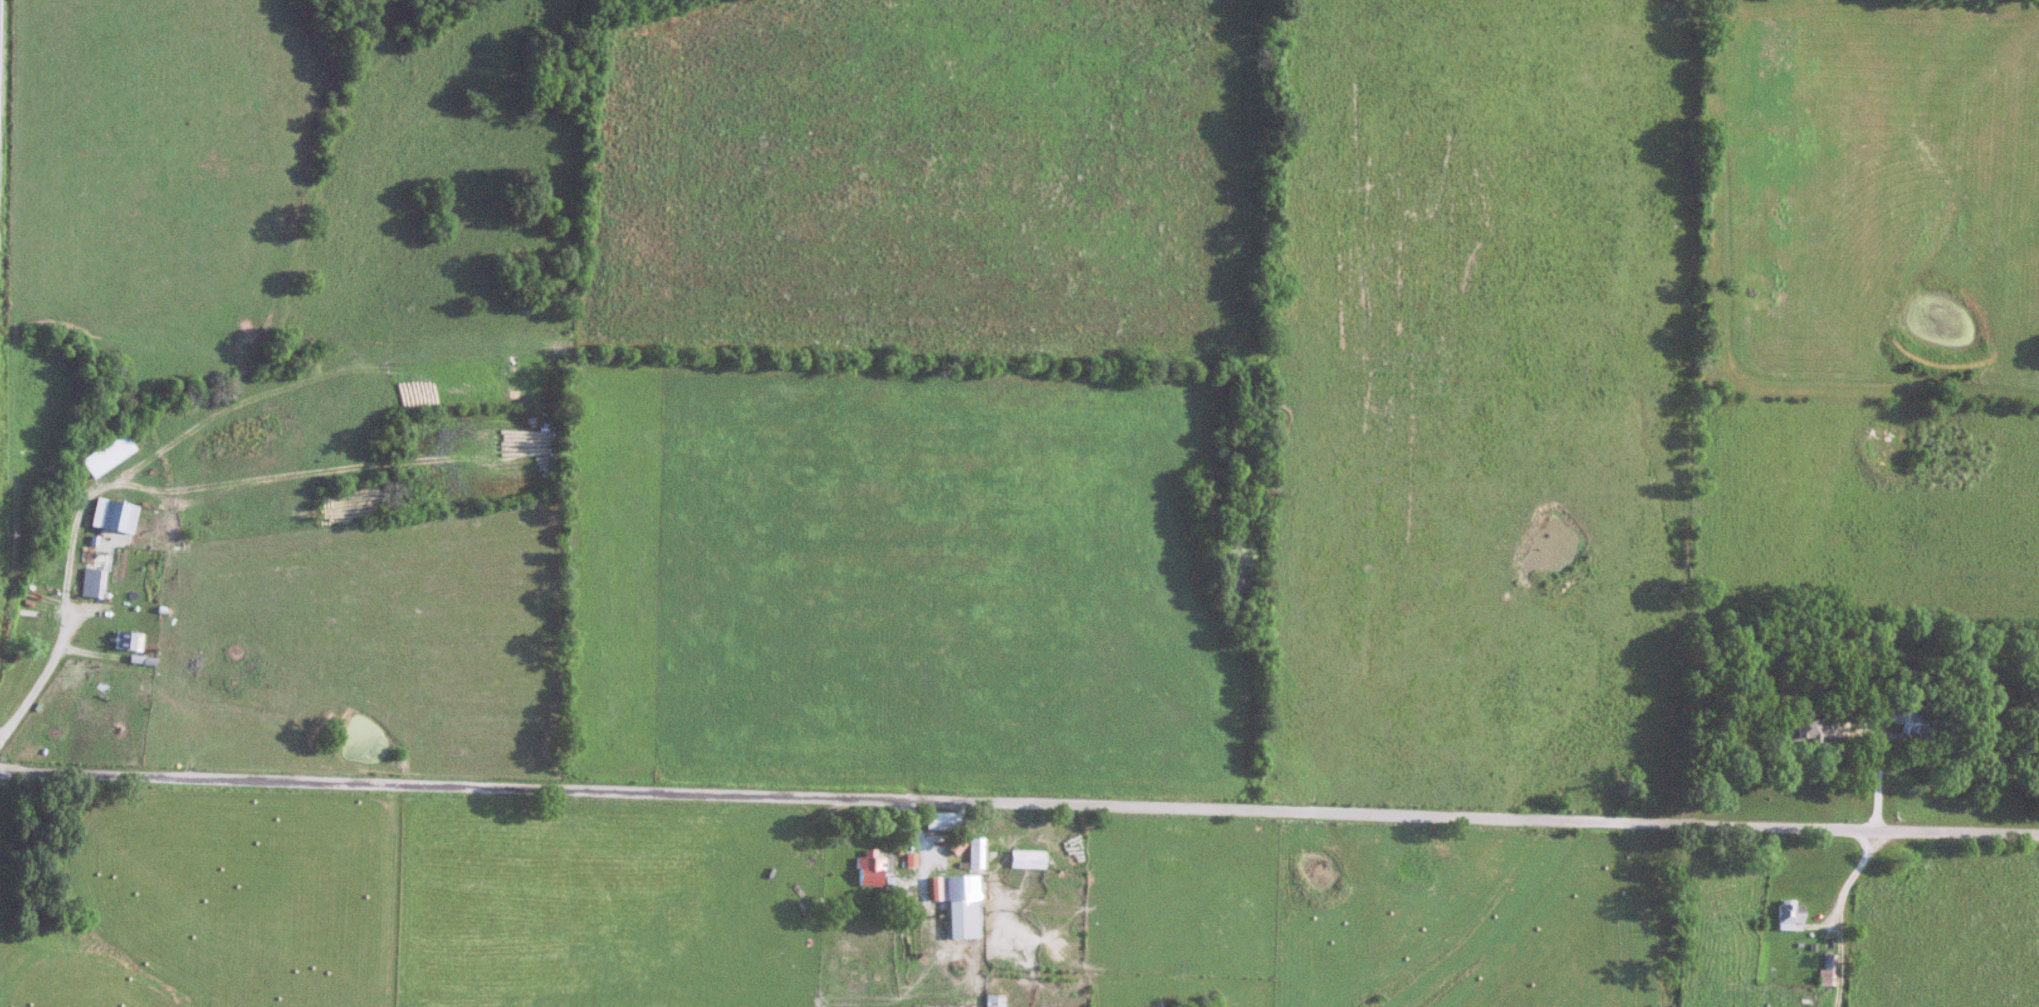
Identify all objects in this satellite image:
building: (118, 517)
building: (152, 575)
building: (92, 582)
building: (128, 641)
road: (58, 662)
building: (1912, 723)
building: (1811, 728)
road: (1019, 806)
building: (942, 821)
building: (954, 844)
building: (974, 852)
building: (1025, 858)
building: (868, 868)
building: (959, 904)
building: (905, 909)
road: (931, 911)
road: (1833, 915)
building: (1791, 917)
building: (1825, 970)
building: (993, 1000)

